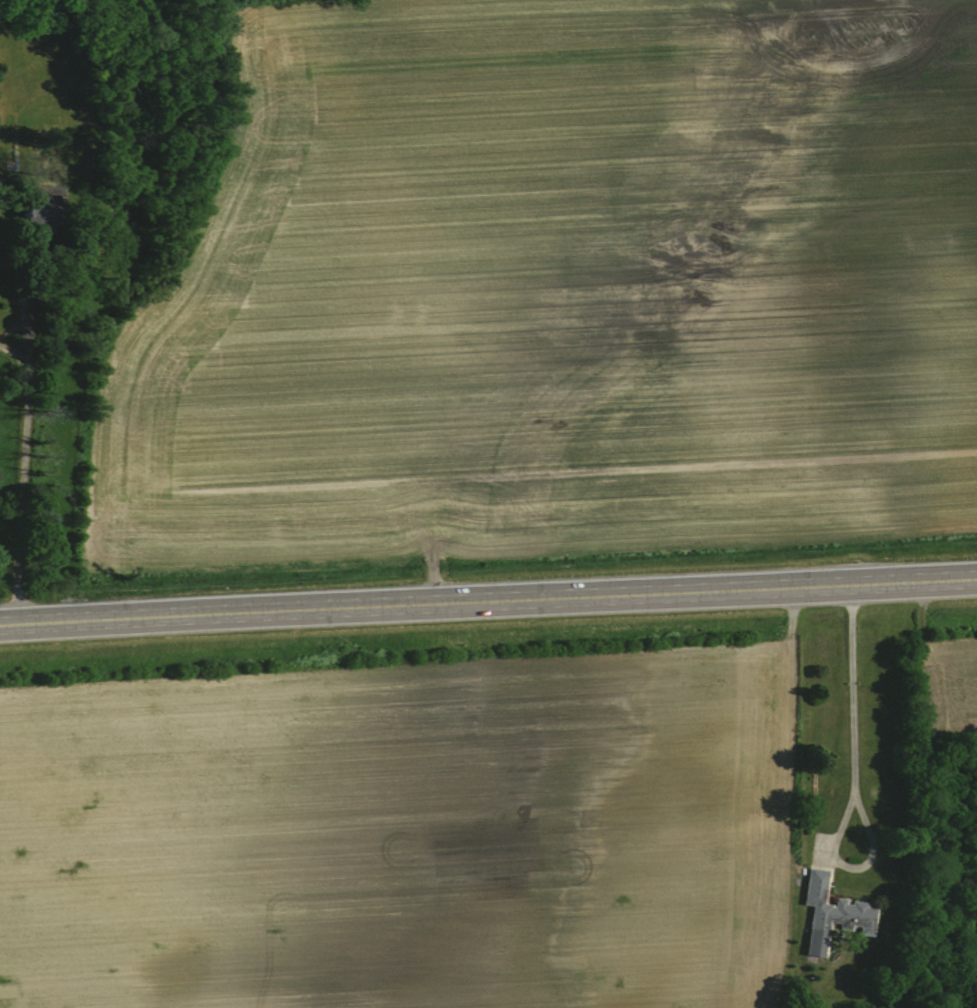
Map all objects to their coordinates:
building: (35, 209)
road: (11, 493)
road: (488, 599)
road: (857, 698)
building: (828, 912)

